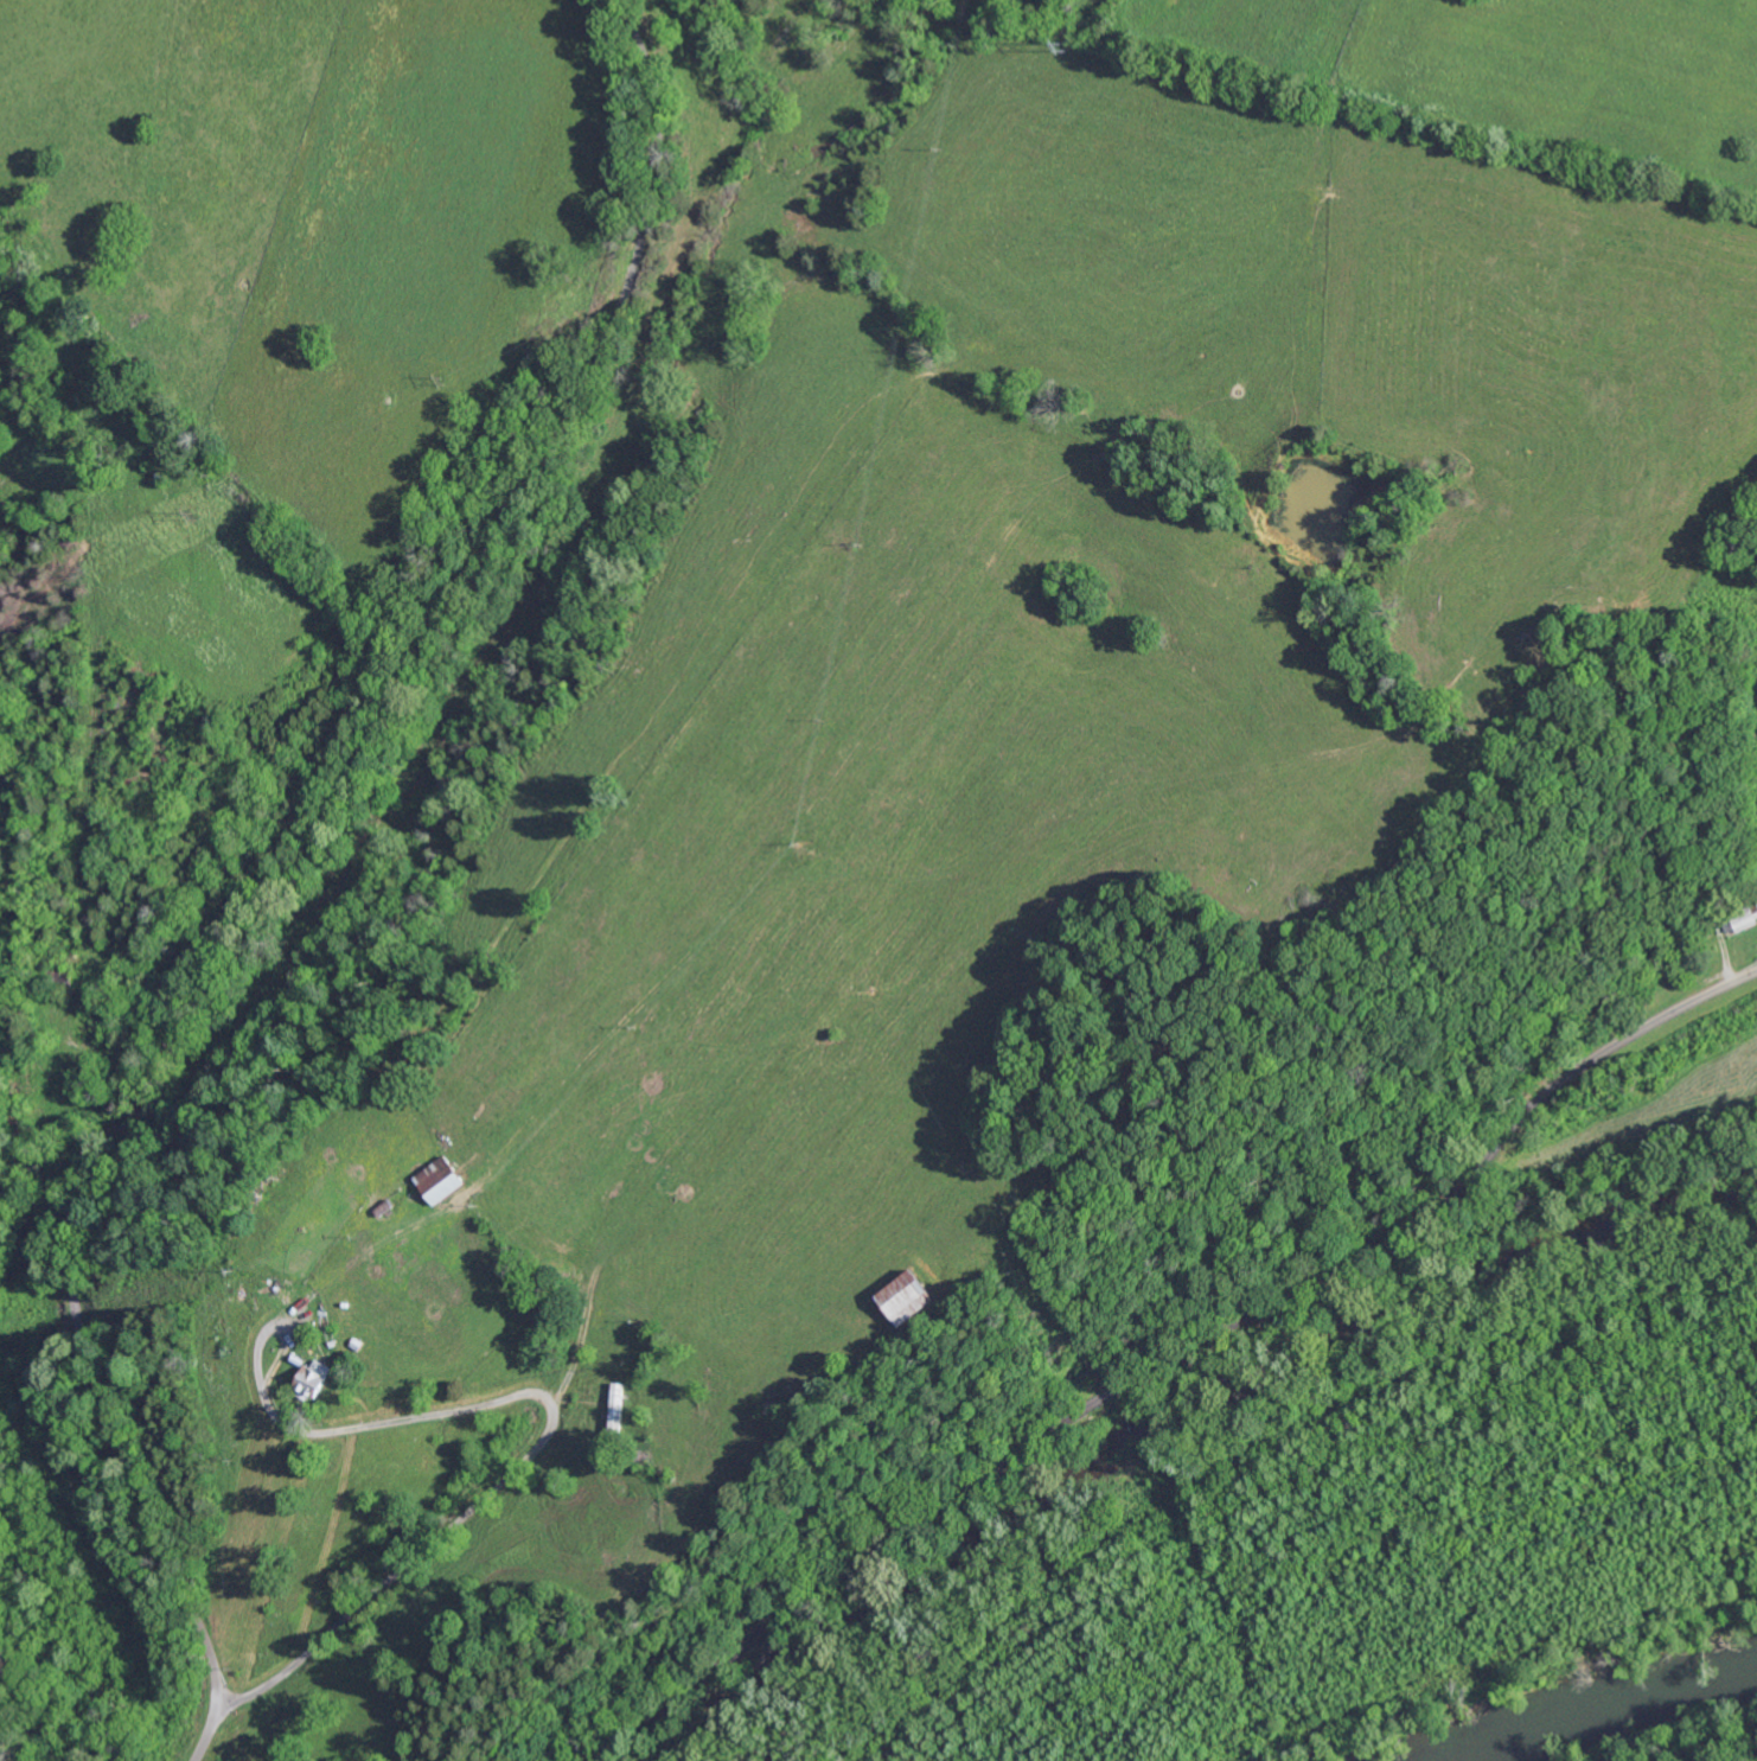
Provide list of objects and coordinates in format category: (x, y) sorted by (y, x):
road: (1510, 830)
road: (295, 875)
building: (445, 1180)
building: (915, 1294)
road: (1171, 1358)
building: (318, 1376)
road: (524, 1459)
river: (1618, 1702)

